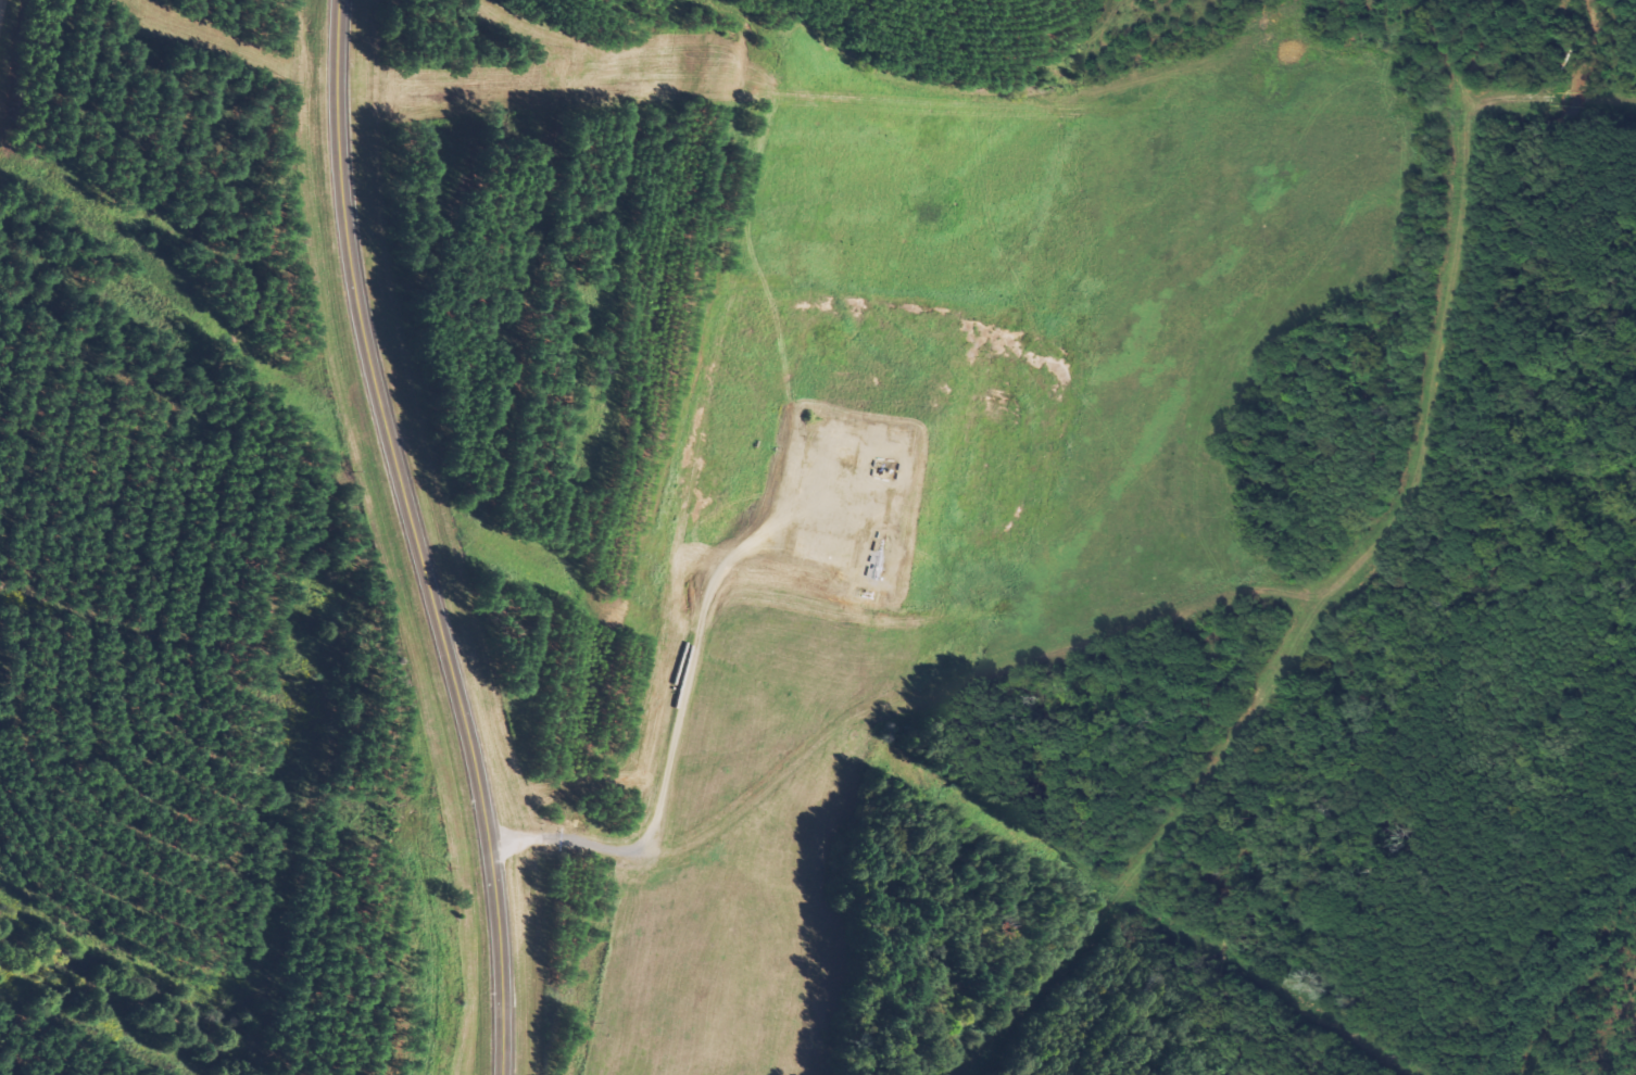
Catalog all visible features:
road: (417, 537)

